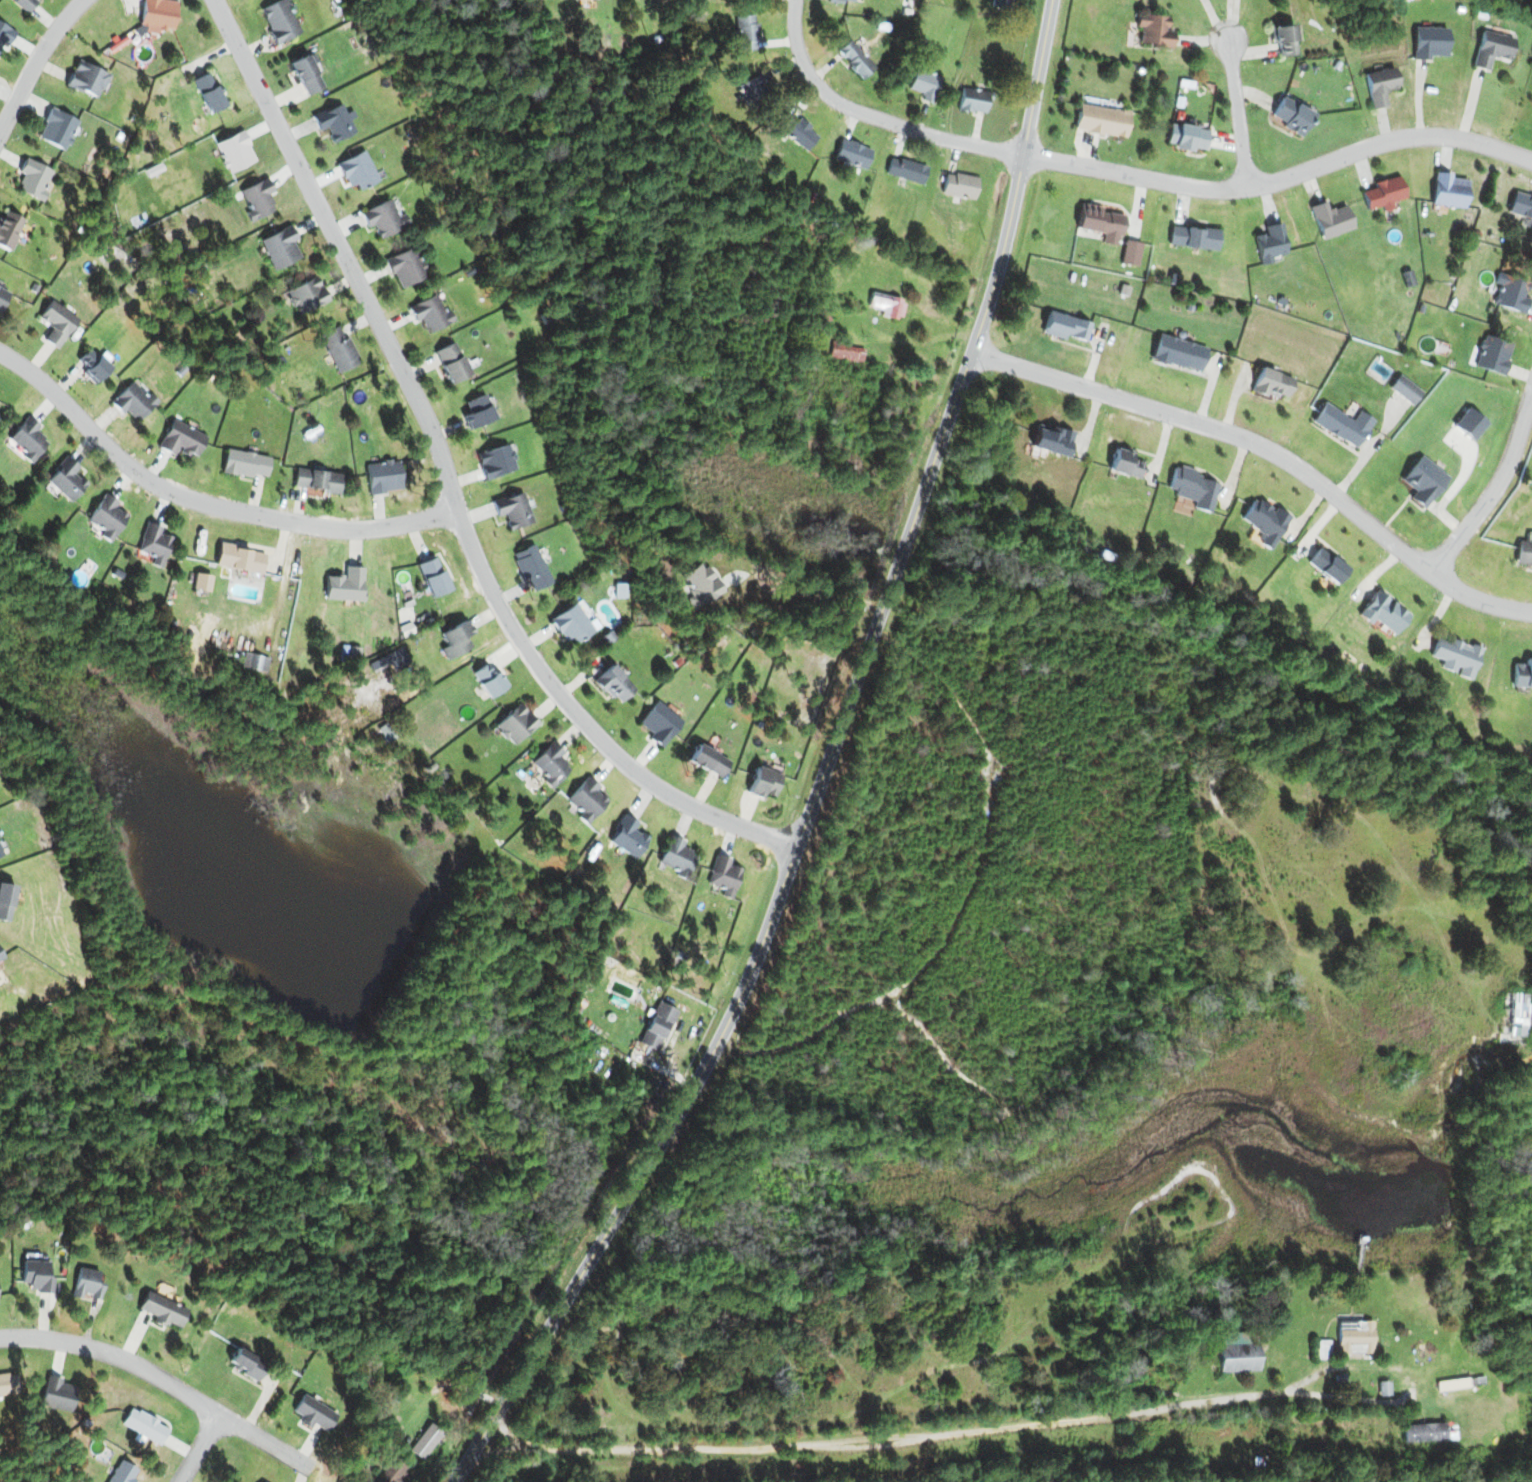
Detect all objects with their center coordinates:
building: (24, 3)
building: (1000, 3)
building: (154, 13)
building: (277, 21)
building: (1155, 30)
building: (746, 32)
building: (1283, 40)
building: (1430, 43)
building: (1490, 49)
building: (854, 59)
road: (36, 62)
building: (303, 74)
building: (86, 79)
building: (922, 84)
building: (1379, 86)
building: (204, 92)
building: (752, 92)
building: (968, 100)
road: (1236, 114)
road: (872, 116)
building: (1289, 116)
building: (1107, 122)
building: (332, 123)
building: (56, 129)
building: (798, 131)
building: (1192, 138)
building: (231, 151)
building: (850, 153)
building: (355, 170)
building: (904, 170)
road: (1280, 178)
building: (29, 180)
building: (957, 185)
building: (1449, 190)
building: (1381, 193)
building: (257, 199)
building: (1521, 206)
building: (384, 218)
building: (1330, 220)
building: (1096, 221)
building: (7, 230)
building: (1192, 237)
building: (1270, 243)
building: (279, 247)
building: (405, 266)
building: (1512, 291)
building: (306, 294)
building: (886, 305)
building: (430, 313)
building: (819, 316)
building: (58, 322)
building: (1061, 327)
building: (341, 347)
building: (1177, 352)
building: (1491, 355)
building: (448, 363)
building: (98, 367)
building: (1271, 383)
building: (1401, 389)
building: (131, 401)
building: (474, 411)
building: (1342, 424)
building: (25, 437)
building: (180, 441)
building: (1050, 441)
road: (1270, 450)
building: (495, 461)
building: (243, 464)
building: (1122, 464)
building: (381, 476)
road: (449, 478)
building: (64, 479)
building: (314, 480)
building: (1192, 487)
road: (1493, 491)
road: (206, 503)
building: (515, 509)
building: (105, 517)
building: (1266, 521)
building: (154, 545)
building: (1524, 553)
building: (237, 558)
building: (1327, 565)
building: (533, 567)
building: (431, 576)
building: (343, 584)
building: (1383, 612)
building: (569, 623)
building: (453, 638)
building: (1456, 654)
building: (252, 662)
building: (1522, 673)
building: (486, 682)
building: (510, 724)
building: (659, 724)
building: (706, 760)
building: (547, 764)
road: (826, 771)
building: (761, 783)
building: (584, 800)
building: (624, 837)
building: (672, 856)
building: (724, 876)
building: (1514, 1017)
building: (657, 1026)
building: (34, 1275)
building: (84, 1283)
building: (161, 1309)
building: (1345, 1340)
building: (1237, 1352)
building: (243, 1363)
road: (168, 1382)
building: (1452, 1387)
building: (62, 1394)
building: (308, 1412)
building: (146, 1426)
building: (1428, 1431)
building: (426, 1441)
road: (199, 1448)
building: (392, 1470)
building: (125, 1473)
building: (261, 1481)

